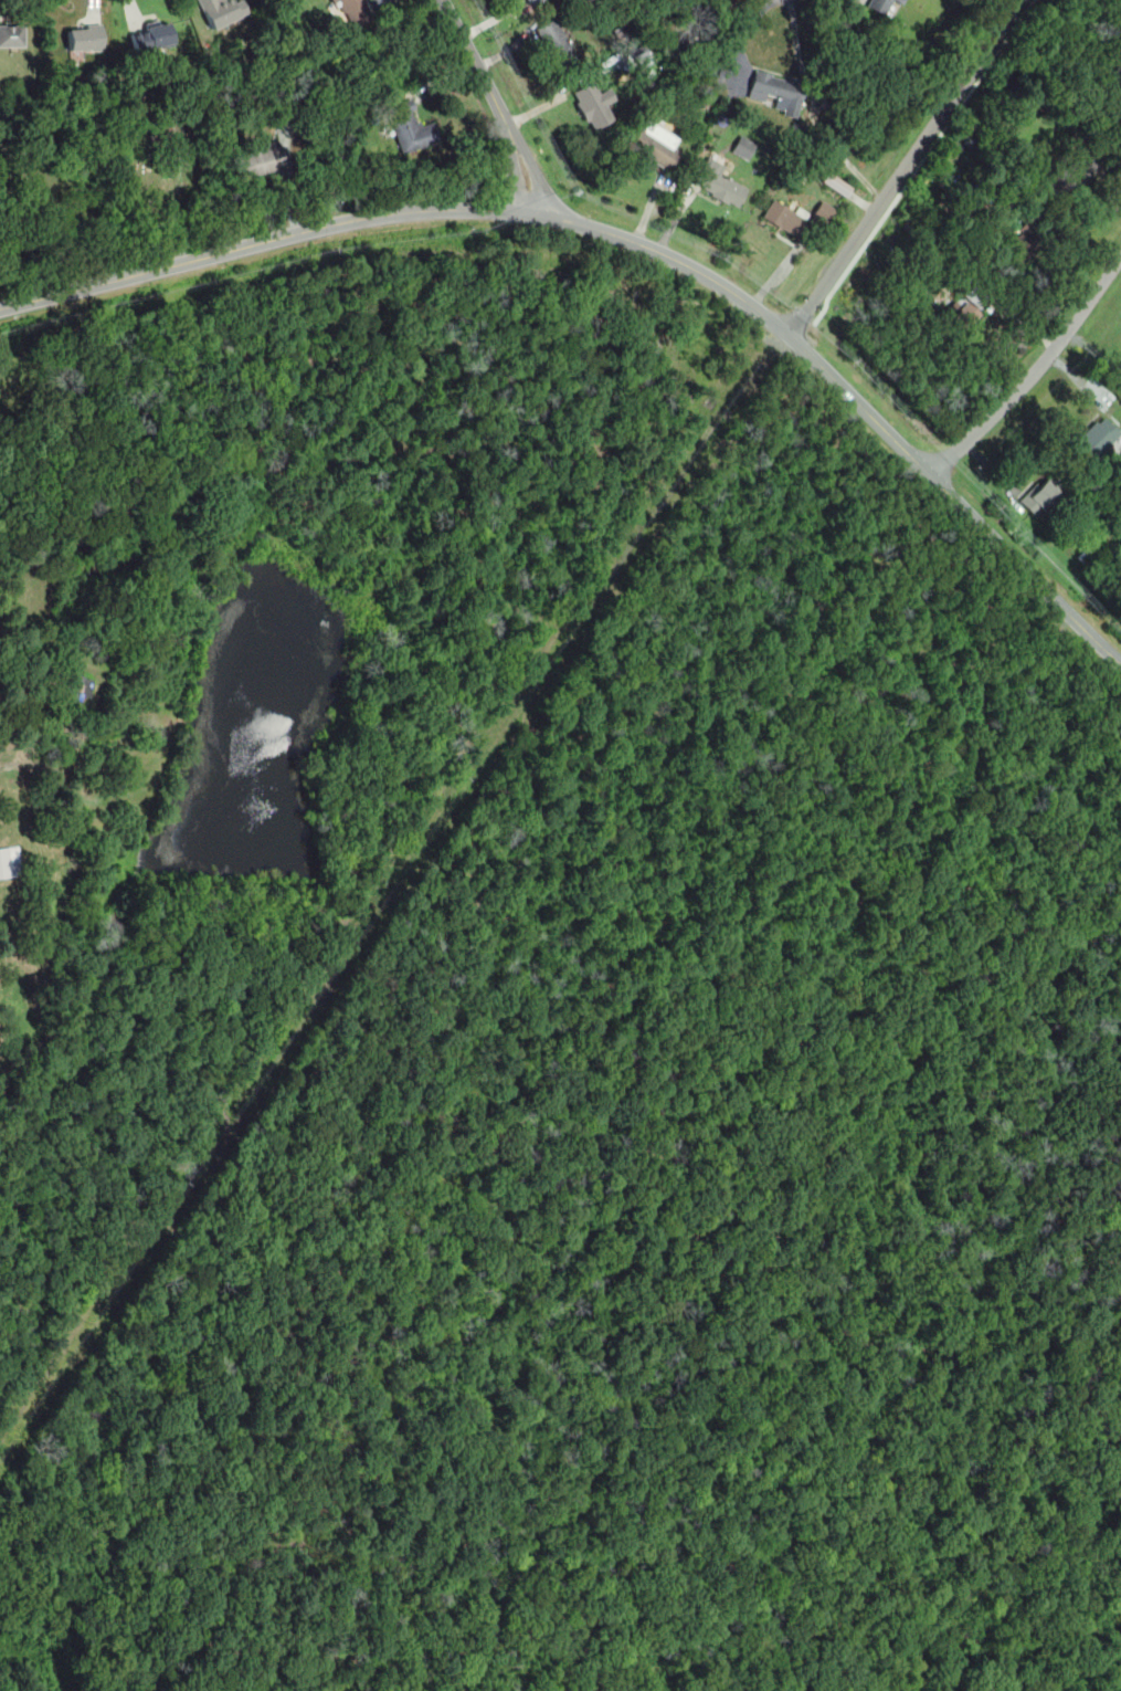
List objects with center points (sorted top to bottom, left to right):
building: (530, 1)
building: (885, 7)
building: (356, 11)
building: (218, 12)
building: (11, 35)
building: (151, 38)
building: (85, 39)
building: (556, 45)
building: (775, 92)
road: (496, 103)
building: (590, 106)
building: (406, 125)
building: (655, 145)
building: (742, 148)
building: (258, 161)
road: (906, 167)
building: (1075, 172)
building: (718, 182)
building: (836, 186)
building: (824, 212)
building: (785, 220)
road: (633, 240)
building: (1023, 245)
building: (976, 295)
building: (962, 318)
road: (1034, 372)
building: (1096, 439)
building: (1038, 497)
building: (78, 691)
building: (9, 861)
road: (231, 1491)

